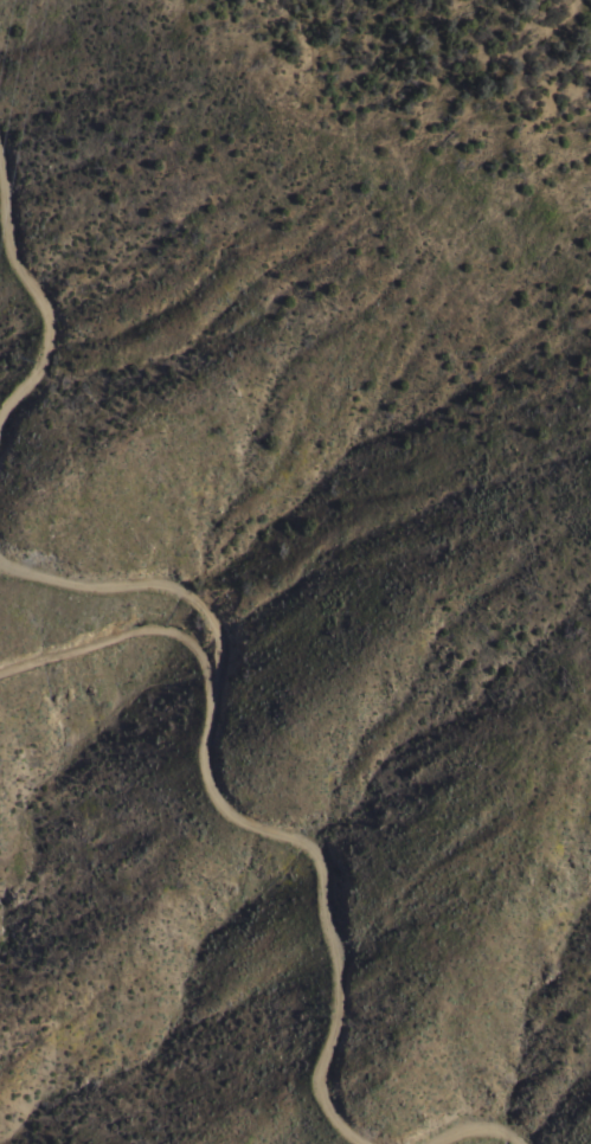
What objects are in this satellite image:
road: (28, 266)
road: (311, 825)

